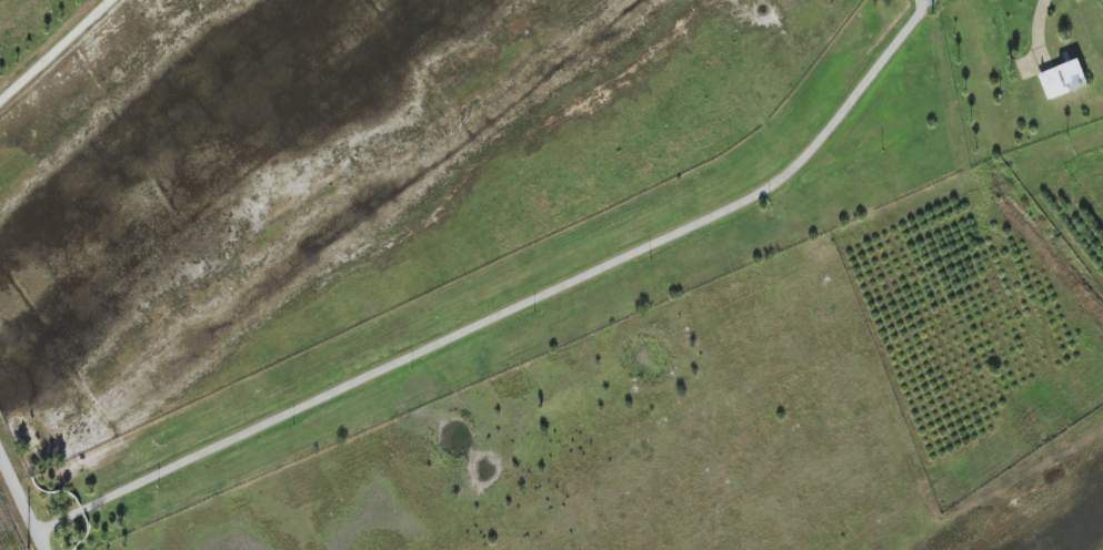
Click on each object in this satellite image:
road: (940, 7)
road: (923, 10)
road: (54, 50)
building: (1063, 79)
road: (801, 172)
road: (334, 404)
road: (23, 499)

